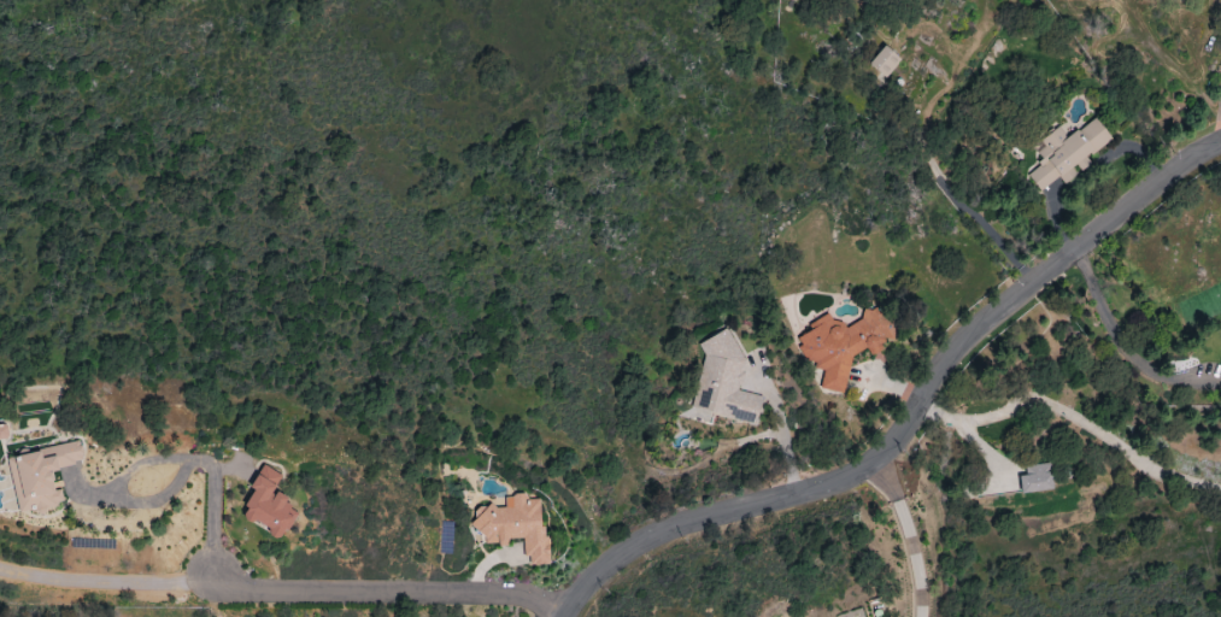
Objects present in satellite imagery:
building: (885, 61)
road: (1220, 133)
building: (1068, 153)
building: (844, 345)
road: (1127, 346)
building: (723, 383)
road: (1074, 417)
road: (914, 419)
road: (782, 440)
road: (165, 458)
building: (51, 476)
building: (1035, 478)
building: (277, 504)
building: (516, 525)
road: (906, 536)
road: (106, 576)
road: (394, 588)

